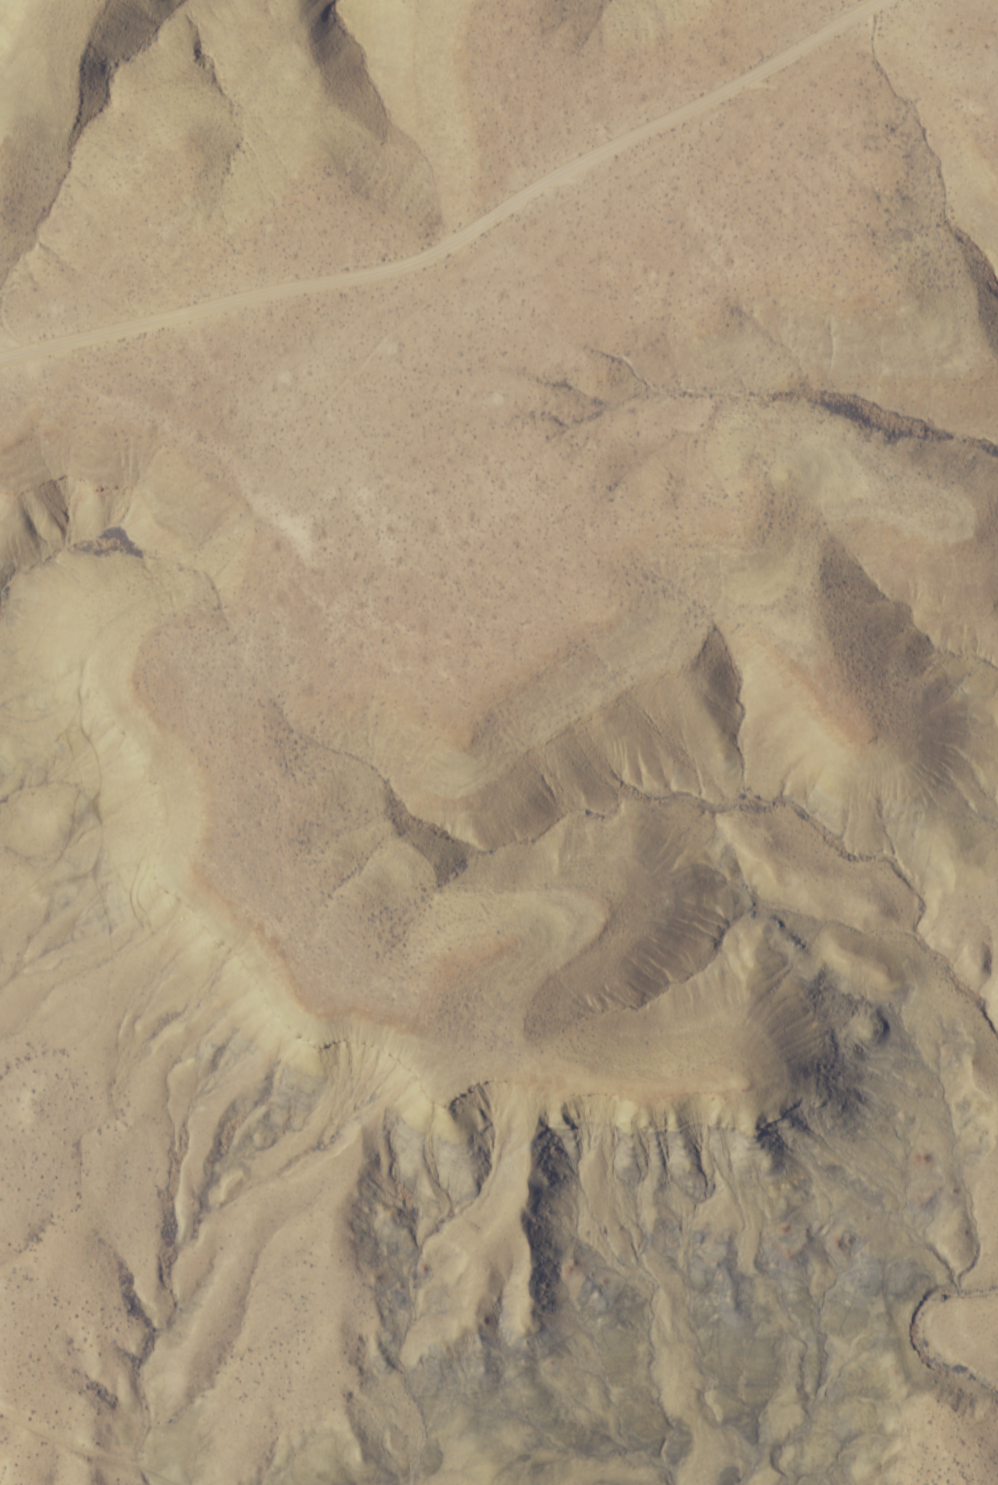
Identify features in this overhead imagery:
road: (417, 83)

